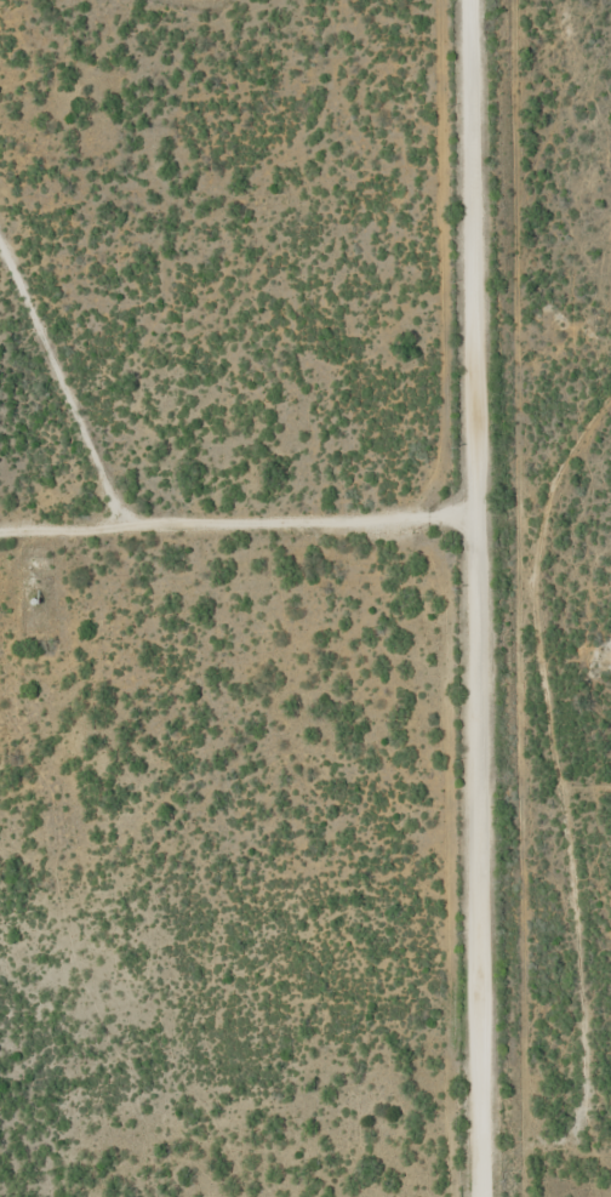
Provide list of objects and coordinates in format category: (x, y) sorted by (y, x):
road: (239, 500)
road: (476, 599)
road: (542, 814)
road: (554, 920)

